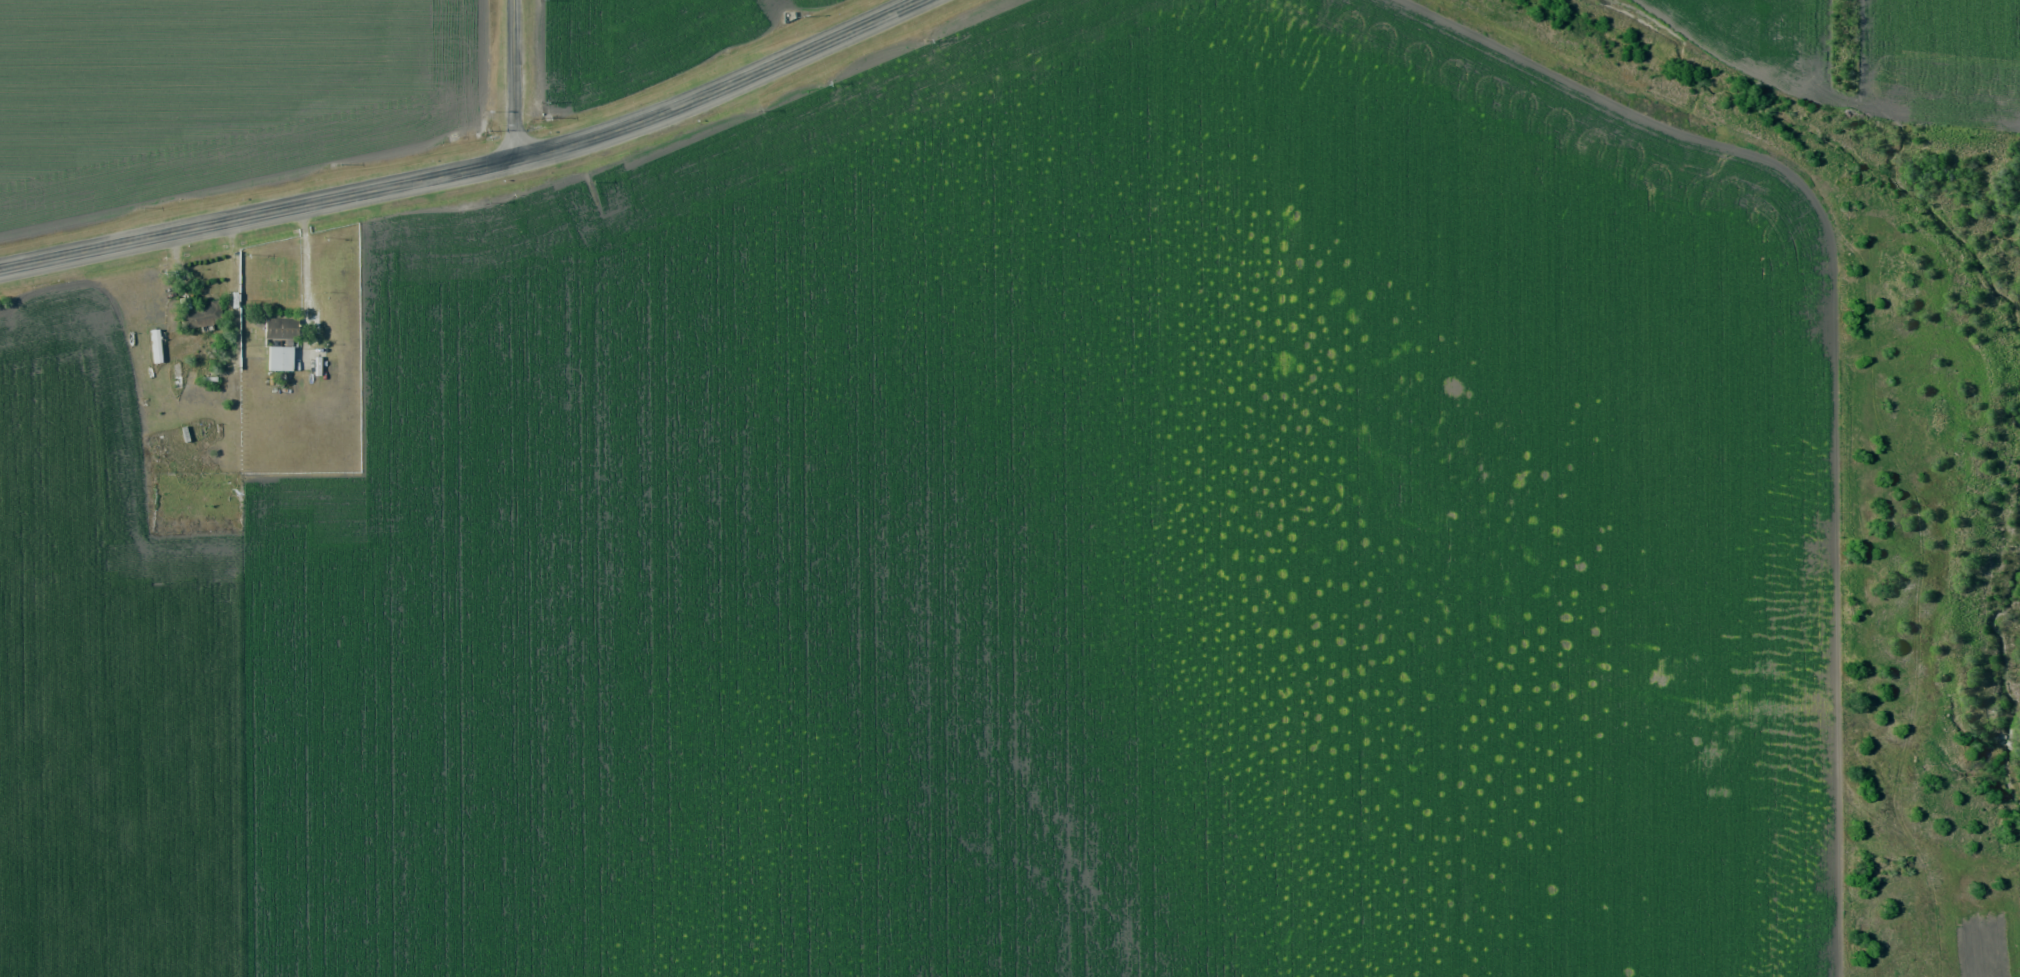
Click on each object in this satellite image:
road: (511, 81)
road: (473, 171)
building: (202, 318)
building: (280, 328)
building: (155, 346)
building: (279, 359)

